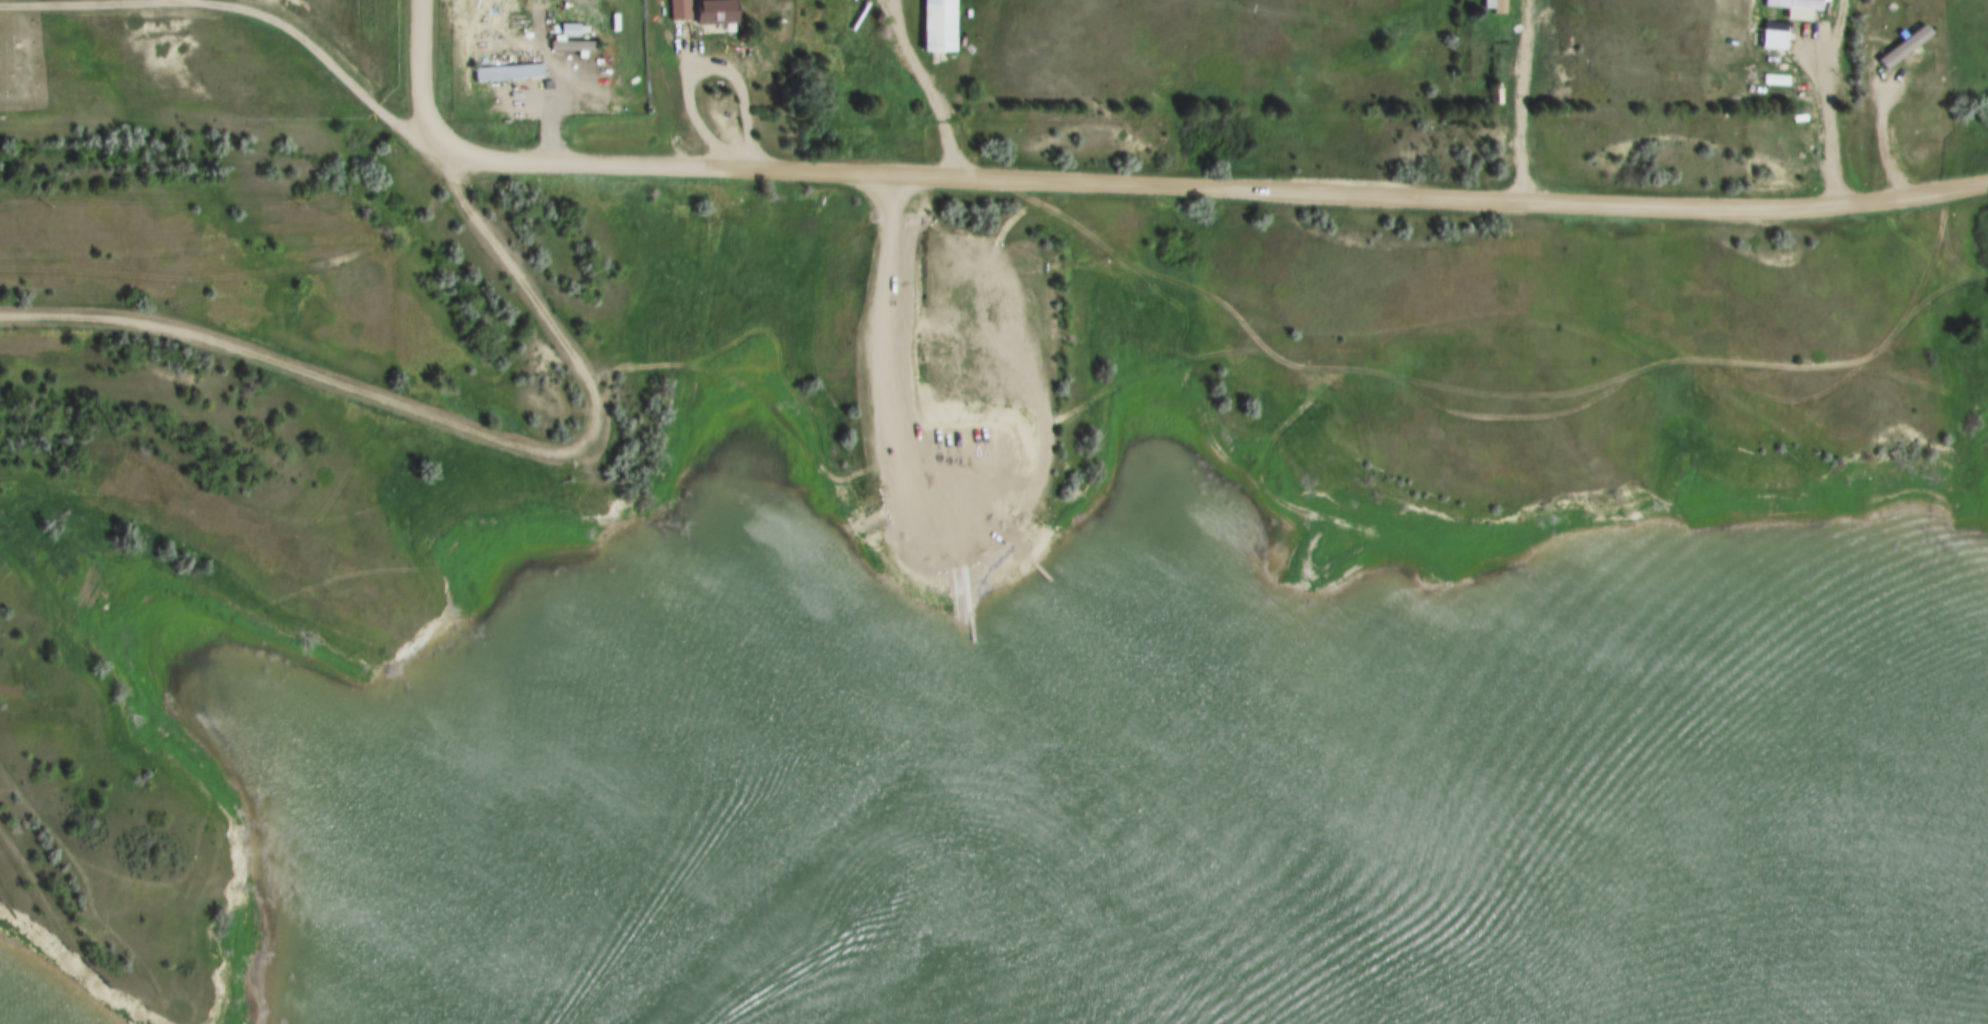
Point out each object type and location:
building: (1868, 0)
road: (177, 3)
building: (1799, 4)
building: (1498, 6)
building: (683, 11)
building: (720, 13)
road: (242, 17)
building: (941, 26)
building: (572, 30)
building: (575, 46)
building: (1908, 55)
road: (703, 73)
building: (512, 74)
road: (423, 77)
building: (1780, 81)
road: (927, 88)
road: (1519, 108)
road: (1881, 146)
road: (1213, 193)
road: (530, 286)
road: (459, 424)

